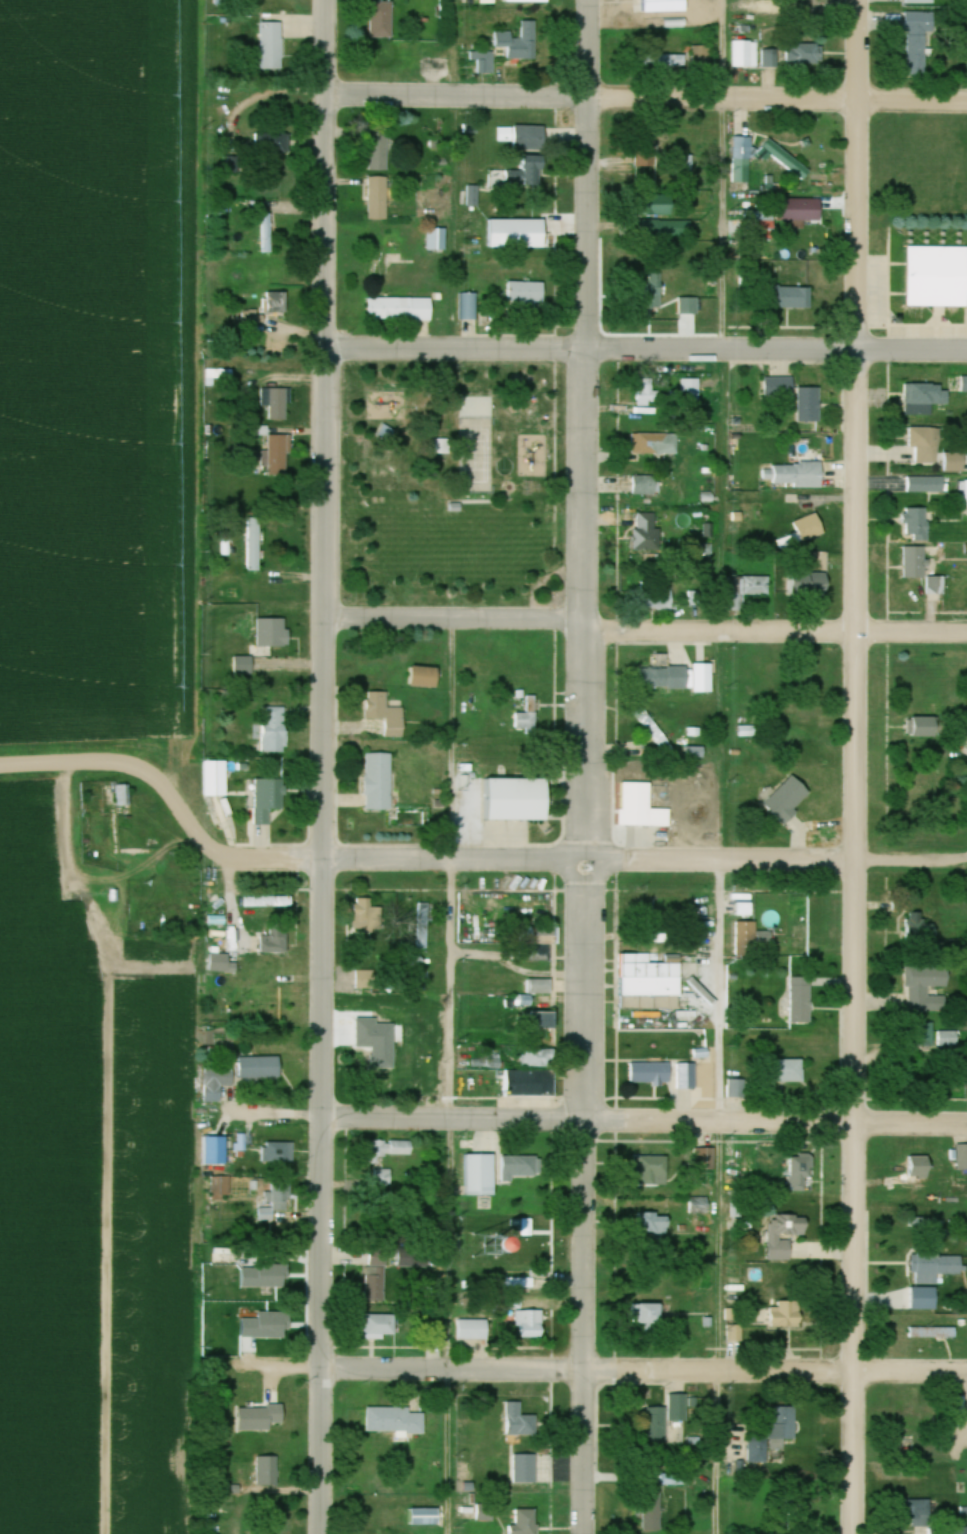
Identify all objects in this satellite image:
building: (921, 2)
building: (381, 20)
building: (518, 42)
building: (917, 43)
building: (271, 46)
building: (743, 55)
building: (803, 55)
building: (481, 57)
building: (701, 58)
building: (767, 59)
building: (671, 60)
road: (264, 99)
road: (646, 100)
building: (530, 138)
building: (271, 143)
building: (641, 156)
building: (378, 157)
building: (741, 160)
building: (787, 160)
building: (529, 171)
road: (724, 176)
building: (378, 198)
building: (657, 207)
building: (799, 210)
building: (667, 229)
building: (266, 238)
building: (436, 240)
building: (937, 277)
building: (527, 297)
building: (788, 298)
building: (647, 299)
building: (274, 305)
building: (467, 307)
building: (687, 307)
building: (400, 310)
road: (587, 316)
building: (253, 319)
road: (647, 352)
building: (210, 375)
building: (964, 385)
building: (778, 387)
building: (686, 390)
building: (648, 395)
building: (925, 398)
building: (275, 404)
building: (809, 405)
building: (474, 408)
building: (386, 434)
building: (653, 445)
building: (925, 445)
building: (277, 456)
building: (475, 464)
building: (799, 476)
building: (925, 485)
building: (645, 486)
building: (964, 496)
building: (916, 525)
building: (647, 533)
building: (803, 533)
building: (253, 546)
building: (921, 571)
building: (800, 586)
building: (651, 600)
road: (456, 620)
building: (272, 634)
road: (775, 636)
road: (585, 647)
building: (242, 666)
building: (424, 678)
building: (663, 679)
building: (385, 715)
building: (527, 717)
building: (925, 728)
building: (275, 730)
road: (78, 764)
road: (325, 766)
road: (857, 767)
building: (215, 779)
building: (378, 783)
building: (121, 794)
building: (516, 800)
building: (788, 800)
building: (268, 801)
building: (641, 808)
road: (487, 860)
building: (217, 901)
building: (267, 902)
building: (646, 908)
building: (513, 911)
building: (365, 916)
building: (919, 929)
building: (802, 936)
building: (746, 940)
building: (274, 941)
building: (539, 943)
building: (365, 979)
building: (650, 982)
building: (926, 988)
building: (801, 998)
building: (543, 1021)
building: (923, 1034)
building: (946, 1038)
building: (550, 1056)
building: (259, 1066)
building: (386, 1066)
building: (787, 1070)
building: (417, 1072)
building: (665, 1074)
road: (452, 1077)
building: (532, 1082)
building: (216, 1083)
road: (721, 1084)
building: (736, 1087)
road: (589, 1097)
road: (645, 1125)
building: (239, 1142)
building: (391, 1148)
building: (215, 1150)
building: (277, 1152)
building: (962, 1156)
building: (519, 1167)
building: (918, 1169)
building: (652, 1171)
building: (801, 1172)
building: (480, 1175)
building: (380, 1178)
building: (219, 1191)
building: (274, 1202)
building: (653, 1225)
building: (785, 1234)
building: (379, 1257)
building: (421, 1260)
building: (935, 1267)
building: (375, 1285)
building: (923, 1306)
building: (788, 1309)
building: (651, 1317)
building: (531, 1324)
building: (379, 1326)
building: (472, 1330)
building: (932, 1333)
road: (646, 1374)
building: (394, 1421)
building: (519, 1422)
building: (654, 1424)
building: (760, 1438)
building: (525, 1468)
building: (267, 1471)
building: (424, 1516)
building: (524, 1522)
building: (949, 1530)

